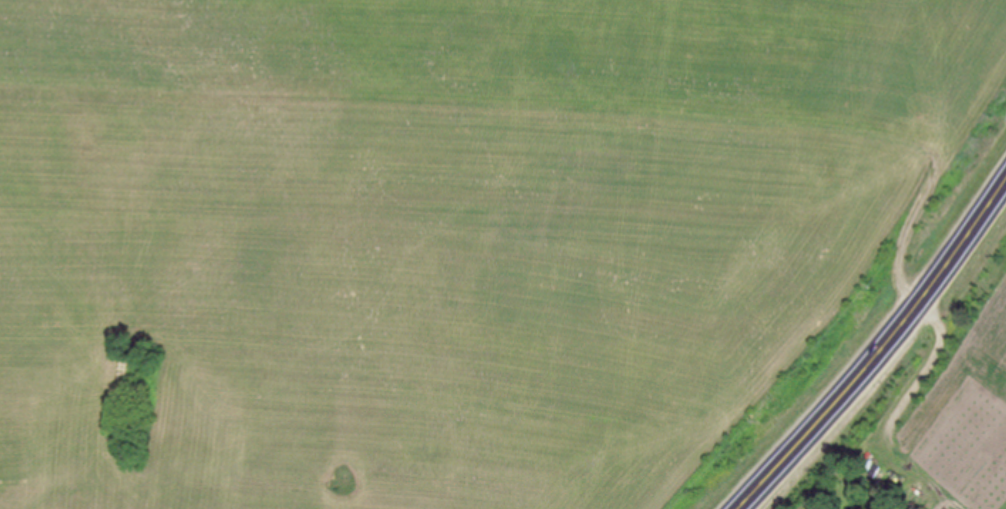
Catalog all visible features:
road: (873, 348)
road: (895, 410)

